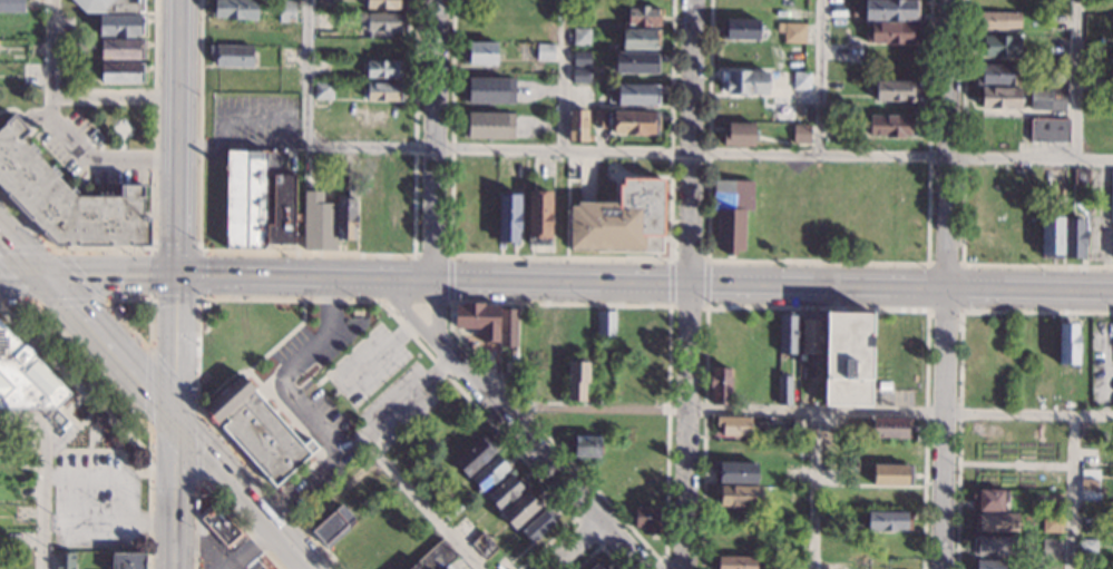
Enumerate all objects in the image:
building: (383, 4)
building: (11, 7)
building: (109, 7)
building: (234, 10)
building: (890, 10)
building: (286, 11)
building: (641, 17)
building: (998, 21)
building: (384, 22)
building: (120, 29)
building: (740, 30)
building: (891, 32)
building: (794, 33)
building: (580, 37)
building: (641, 39)
building: (998, 46)
building: (120, 52)
building: (545, 52)
building: (479, 55)
building: (232, 56)
building: (580, 59)
building: (636, 62)
building: (383, 69)
building: (1042, 71)
road: (305, 72)
road: (562, 75)
building: (996, 75)
building: (580, 76)
building: (1093, 76)
building: (121, 77)
road: (821, 77)
building: (1056, 77)
building: (801, 80)
road: (1078, 80)
building: (744, 84)
road: (177, 89)
building: (488, 89)
building: (323, 90)
building: (896, 90)
building: (384, 92)
road: (66, 94)
building: (637, 95)
building: (999, 98)
building: (1046, 100)
road: (255, 115)
road: (35, 116)
building: (599, 119)
parking lot: (252, 124)
building: (635, 124)
building: (489, 125)
building: (577, 126)
building: (891, 126)
building: (1048, 131)
building: (738, 133)
building: (800, 133)
road: (241, 145)
parking lot: (91, 151)
road: (709, 153)
road: (91, 159)
parking lot: (289, 161)
road: (432, 164)
chimney: (225, 167)
road: (588, 173)
building: (1081, 176)
building: (67, 198)
building: (1112, 199)
building: (257, 200)
road: (563, 206)
road: (961, 207)
road: (152, 212)
building: (731, 213)
building: (508, 217)
building: (539, 218)
building: (619, 218)
building: (348, 219)
building: (318, 222)
road: (175, 227)
building: (1052, 236)
building: (1074, 236)
road: (280, 246)
road: (285, 246)
road: (291, 246)
road: (21, 248)
road: (309, 251)
road: (431, 254)
road: (562, 256)
road: (687, 259)
road: (818, 262)
road: (960, 264)
road: (22, 273)
traffic signals: (45, 273)
road: (109, 274)
traffic signals: (175, 276)
road: (450, 277)
road: (644, 279)
road: (670, 282)
road: (705, 283)
road: (690, 284)
road: (945, 284)
road: (197, 295)
road: (104, 296)
road: (307, 300)
road: (404, 302)
road: (416, 302)
road: (687, 305)
road: (814, 307)
road: (985, 311)
building: (478, 320)
building: (507, 326)
building: (605, 326)
road: (148, 331)
building: (787, 334)
road: (45, 335)
building: (810, 336)
building: (1067, 344)
road: (108, 347)
road: (174, 349)
road: (380, 351)
building: (847, 359)
parking lot: (367, 364)
road: (290, 367)
building: (25, 377)
building: (576, 380)
road: (321, 381)
road: (221, 384)
road: (74, 385)
road: (94, 386)
building: (719, 386)
building: (784, 391)
road: (306, 393)
road: (273, 400)
parking lot: (401, 403)
road: (127, 404)
road: (400, 405)
road: (803, 412)
road: (72, 420)
traffic signals: (173, 423)
building: (734, 425)
building: (255, 429)
building: (891, 429)
building: (798, 430)
road: (89, 433)
building: (311, 445)
building: (584, 447)
road: (536, 448)
road: (108, 451)
building: (472, 458)
road: (43, 472)
building: (736, 473)
building: (488, 474)
building: (891, 475)
road: (108, 477)
road: (197, 481)
building: (1087, 484)
road: (305, 488)
road: (957, 490)
building: (25, 491)
road: (817, 491)
road: (1073, 491)
building: (505, 492)
road: (211, 493)
building: (433, 493)
road: (665, 493)
road: (172, 496)
road: (240, 496)
building: (738, 497)
building: (989, 500)
parking lot: (94, 501)
building: (195, 503)
building: (449, 509)
road: (426, 511)
building: (519, 511)
building: (22, 514)
building: (1026, 518)
road: (574, 519)
building: (647, 520)
building: (887, 521)
building: (995, 522)
road: (107, 523)
building: (1051, 524)
building: (221, 526)
building: (537, 526)
building: (332, 527)
building: (792, 543)
road: (598, 545)
building: (484, 546)
road: (575, 546)
building: (1087, 546)
building: (992, 547)
road: (248, 549)
building: (436, 558)
building: (65, 560)
building: (23, 561)
building: (128, 561)
building: (734, 563)
road: (662, 565)
building: (988, 565)
building: (595, 567)

